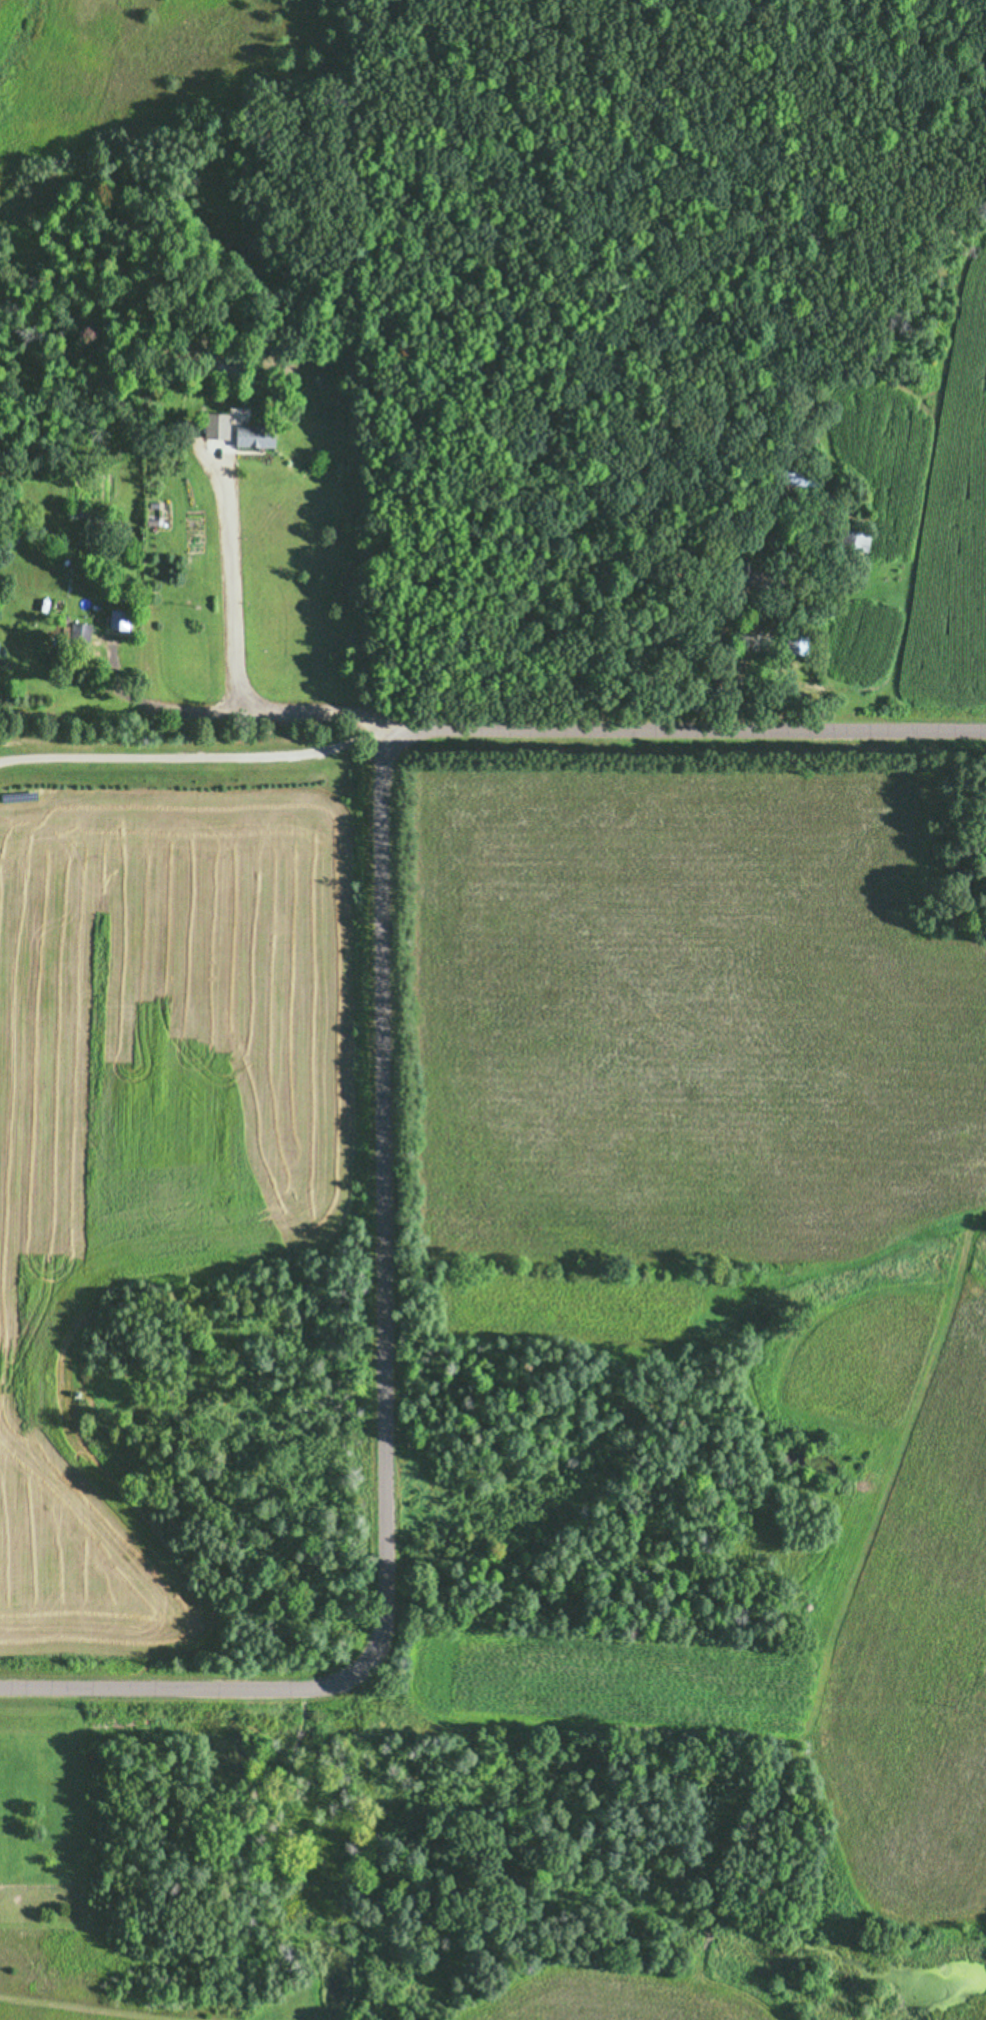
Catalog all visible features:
building: (215, 425)
building: (252, 435)
building: (791, 473)
building: (852, 538)
road: (230, 585)
building: (77, 636)
building: (793, 643)
road: (254, 708)
road: (192, 755)
road: (383, 1079)

